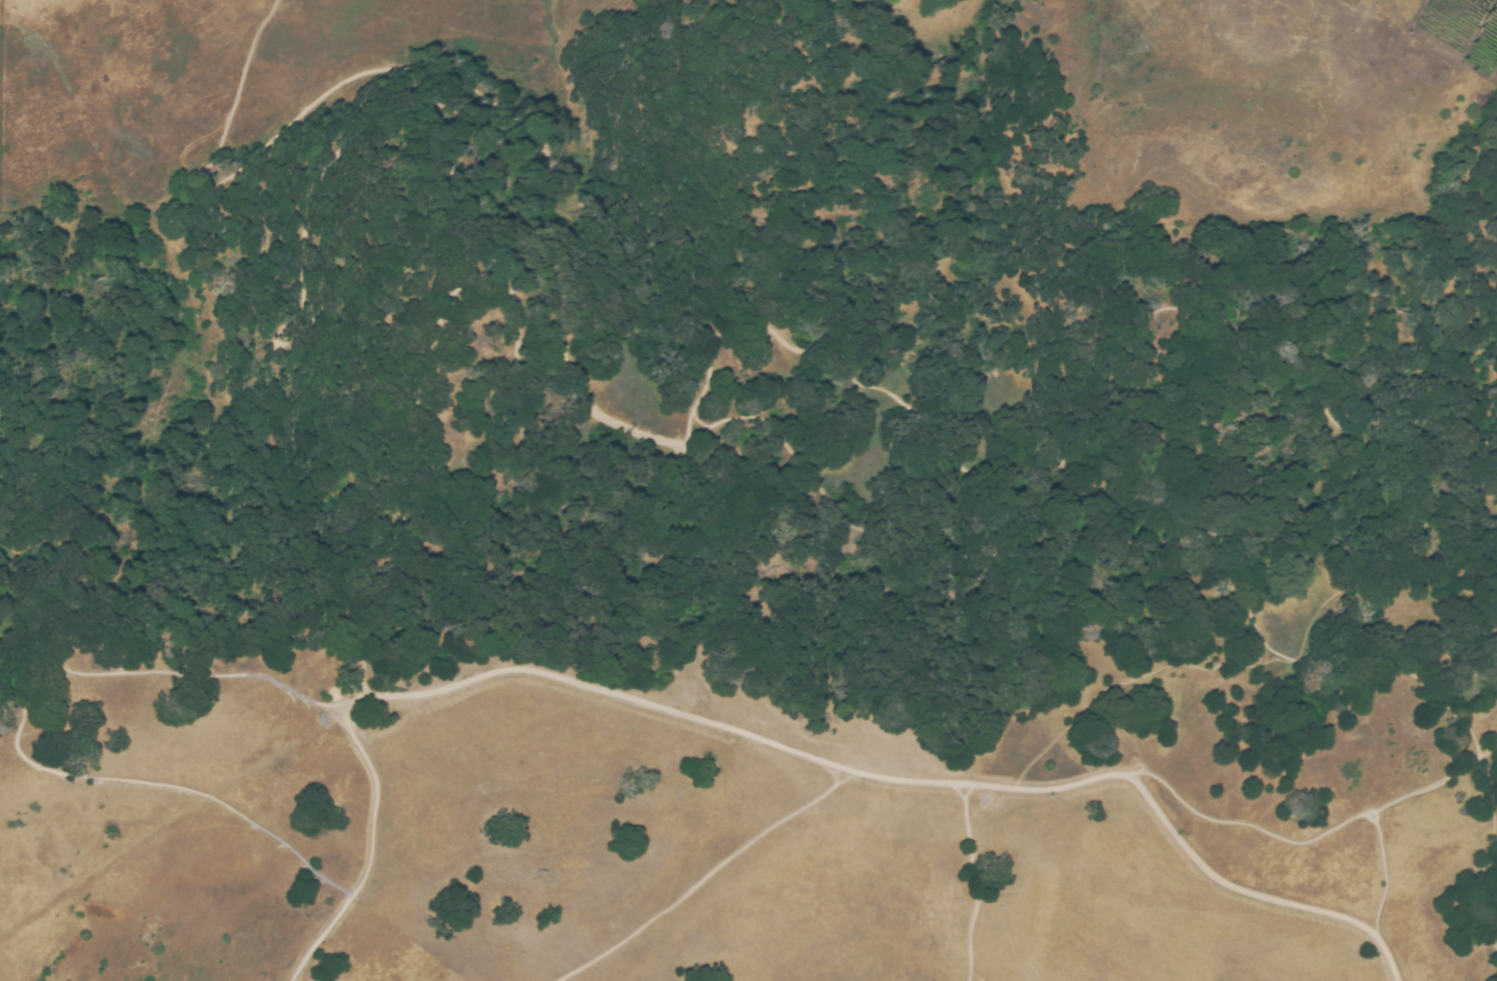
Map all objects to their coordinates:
road: (338, 211)
road: (718, 344)
road: (1104, 538)
park: (791, 549)
road: (17, 732)
road: (915, 778)
road: (376, 797)
road: (1282, 839)
road: (1489, 848)
road: (703, 854)
road: (977, 883)
road: (319, 939)
road: (557, 972)

